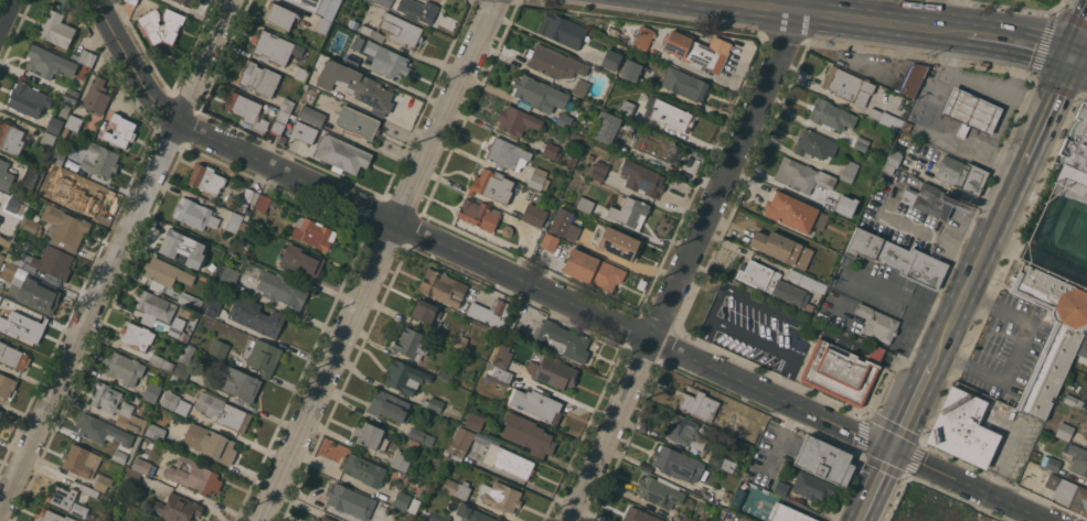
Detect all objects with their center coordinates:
building: (131, 1)
building: (185, 2)
building: (384, 2)
building: (309, 3)
building: (418, 10)
road: (935, 14)
building: (280, 15)
road: (8, 17)
road: (836, 18)
building: (322, 24)
building: (150, 25)
building: (172, 25)
building: (55, 29)
building: (365, 30)
building: (401, 30)
building: (562, 30)
building: (624, 32)
road: (995, 35)
building: (643, 37)
road: (1081, 46)
building: (276, 47)
road: (1049, 50)
building: (695, 52)
building: (353, 56)
building: (614, 56)
building: (85, 57)
traffic signals: (1076, 58)
building: (546, 61)
road: (1081, 61)
building: (47, 63)
building: (390, 63)
road: (1016, 66)
building: (582, 67)
building: (630, 69)
building: (301, 74)
building: (258, 78)
building: (913, 79)
road: (977, 80)
road: (1065, 83)
building: (685, 84)
building: (355, 85)
building: (848, 85)
building: (578, 87)
building: (72, 95)
building: (540, 95)
building: (96, 96)
road: (1032, 98)
building: (28, 99)
building: (287, 105)
building: (627, 107)
building: (245, 109)
building: (64, 110)
building: (970, 112)
gas station: (970, 112)
building: (311, 115)
building: (671, 115)
building: (831, 115)
building: (886, 118)
building: (516, 120)
building: (565, 120)
building: (75, 122)
building: (279, 122)
building: (358, 122)
road: (1000, 123)
building: (54, 124)
building: (906, 126)
building: (607, 128)
building: (295, 129)
road: (925, 129)
building: (120, 130)
building: (64, 134)
building: (10, 138)
building: (47, 139)
road: (1037, 141)
building: (855, 142)
building: (813, 144)
building: (658, 145)
building: (44, 149)
building: (552, 151)
building: (341, 154)
building: (507, 154)
building: (58, 158)
building: (590, 158)
building: (892, 158)
building: (98, 160)
building: (1074, 160)
building: (887, 167)
building: (597, 170)
building: (849, 171)
building: (961, 174)
building: (6, 175)
building: (801, 175)
building: (30, 176)
building: (641, 177)
building: (205, 178)
building: (539, 178)
building: (492, 185)
building: (46, 186)
building: (841, 187)
building: (85, 193)
building: (856, 193)
building: (251, 196)
building: (929, 199)
building: (263, 203)
building: (585, 204)
building: (834, 204)
building: (843, 205)
building: (14, 206)
building: (629, 211)
building: (793, 211)
building: (194, 214)
building: (478, 214)
building: (534, 215)
building: (0, 218)
building: (234, 221)
building: (564, 225)
road: (917, 225)
building: (30, 226)
building: (65, 228)
building: (508, 231)
building: (313, 234)
building: (4, 241)
building: (548, 241)
building: (617, 242)
building: (776, 246)
building: (177, 247)
building: (242, 247)
building: (220, 251)
road: (108, 253)
building: (9, 257)
building: (897, 258)
building: (1, 259)
road: (376, 259)
road: (688, 260)
building: (18, 261)
building: (52, 261)
building: (301, 261)
road: (979, 268)
building: (593, 270)
building: (11, 271)
building: (166, 272)
building: (228, 278)
building: (807, 281)
road: (868, 281)
building: (772, 283)
building: (443, 287)
building: (283, 291)
road: (738, 291)
road: (548, 293)
building: (0, 296)
building: (38, 296)
building: (190, 301)
building: (153, 305)
building: (211, 307)
building: (425, 311)
building: (489, 312)
road: (936, 313)
building: (256, 316)
building: (149, 321)
building: (877, 323)
building: (22, 326)
building: (516, 327)
building: (178, 329)
building: (1085, 332)
building: (1051, 335)
building: (137, 336)
building: (562, 339)
building: (459, 340)
building: (412, 344)
building: (219, 348)
road: (1017, 351)
road: (875, 354)
building: (502, 356)
building: (13, 357)
building: (263, 357)
building: (160, 361)
building: (183, 362)
building: (125, 368)
road: (906, 368)
building: (842, 371)
building: (445, 372)
building: (554, 372)
building: (404, 376)
building: (499, 376)
road: (782, 376)
building: (237, 382)
building: (7, 384)
building: (151, 391)
building: (1074, 401)
building: (175, 402)
building: (536, 403)
building: (433, 404)
building: (699, 404)
building: (388, 405)
road: (917, 405)
building: (106, 406)
building: (222, 411)
building: (0, 412)
building: (475, 421)
building: (966, 424)
building: (1038, 424)
building: (1064, 430)
building: (156, 432)
building: (684, 432)
building: (105, 434)
building: (369, 434)
building: (420, 435)
building: (527, 435)
road: (780, 437)
building: (459, 442)
building: (210, 443)
traffic signals: (897, 451)
building: (1077, 458)
building: (81, 459)
building: (824, 459)
building: (401, 460)
building: (508, 460)
building: (676, 464)
building: (1053, 464)
building: (728, 465)
building: (143, 466)
building: (363, 469)
building: (745, 475)
building: (194, 476)
building: (131, 477)
building: (103, 482)
building: (812, 486)
road: (881, 486)
building: (457, 488)
building: (781, 488)
building: (88, 490)
building: (1067, 491)
building: (660, 492)
building: (502, 498)
building: (350, 500)
building: (738, 500)
building: (67, 501)
building: (407, 501)
building: (928, 504)
building: (178, 508)
road: (983, 508)
building: (471, 513)
building: (787, 513)
building: (51, 515)
building: (639, 515)
building: (438, 517)
building: (327, 519)
building: (686, 519)
building: (108, 520)
building: (156, 520)
building: (317, 520)

